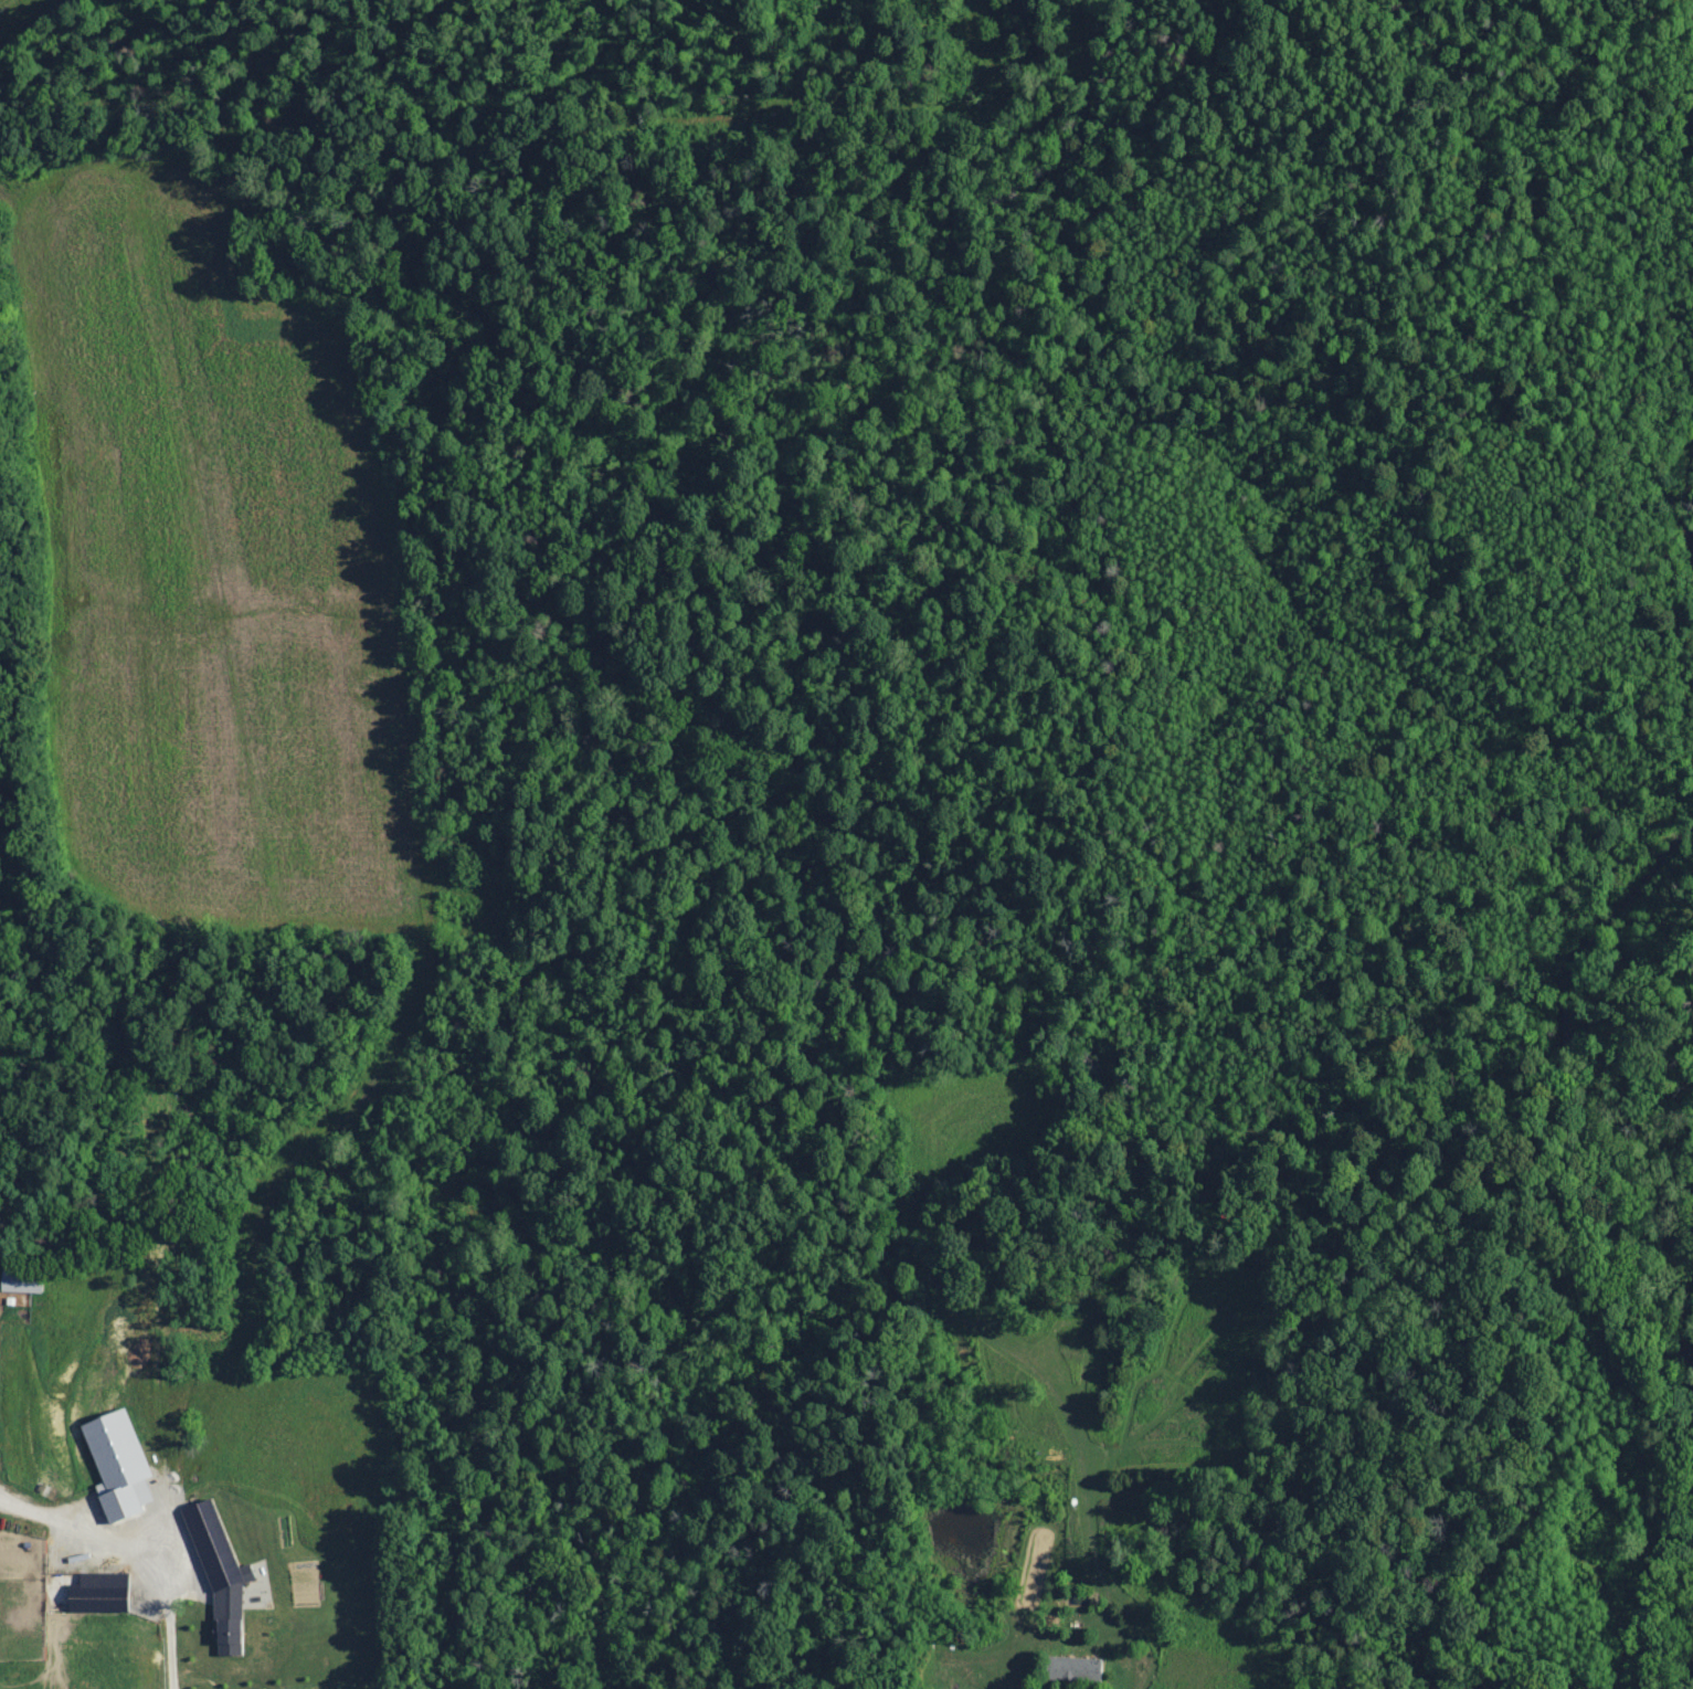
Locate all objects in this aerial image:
building: (20, 1280)
building: (116, 1465)
building: (216, 1574)
building: (97, 1598)
road: (166, 1614)
building: (1071, 1667)

